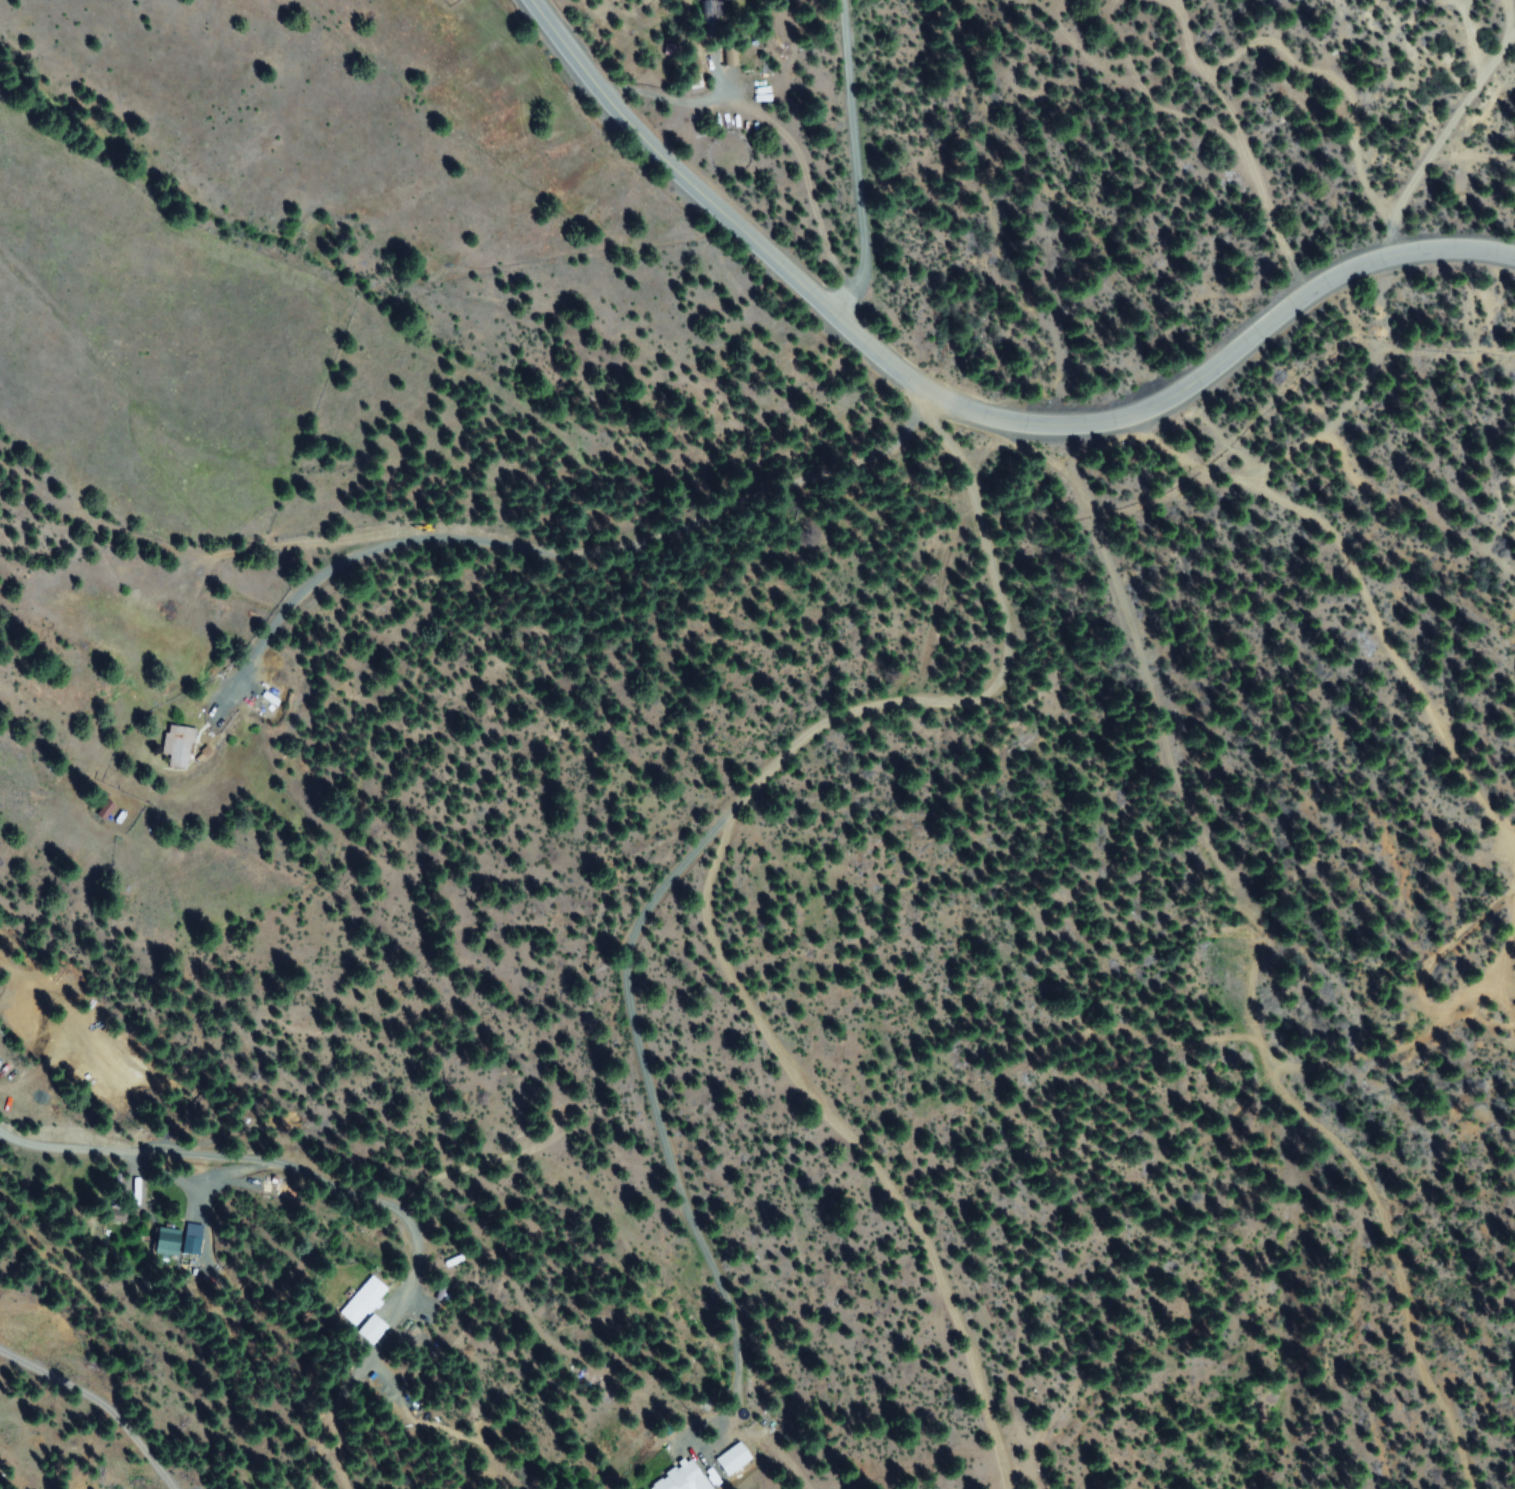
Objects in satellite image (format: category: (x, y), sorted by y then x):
road: (966, 410)
road: (572, 540)
building: (177, 746)
road: (745, 918)
road: (397, 1219)
building: (161, 1244)
building: (361, 1302)
building: (732, 1459)
building: (676, 1478)

